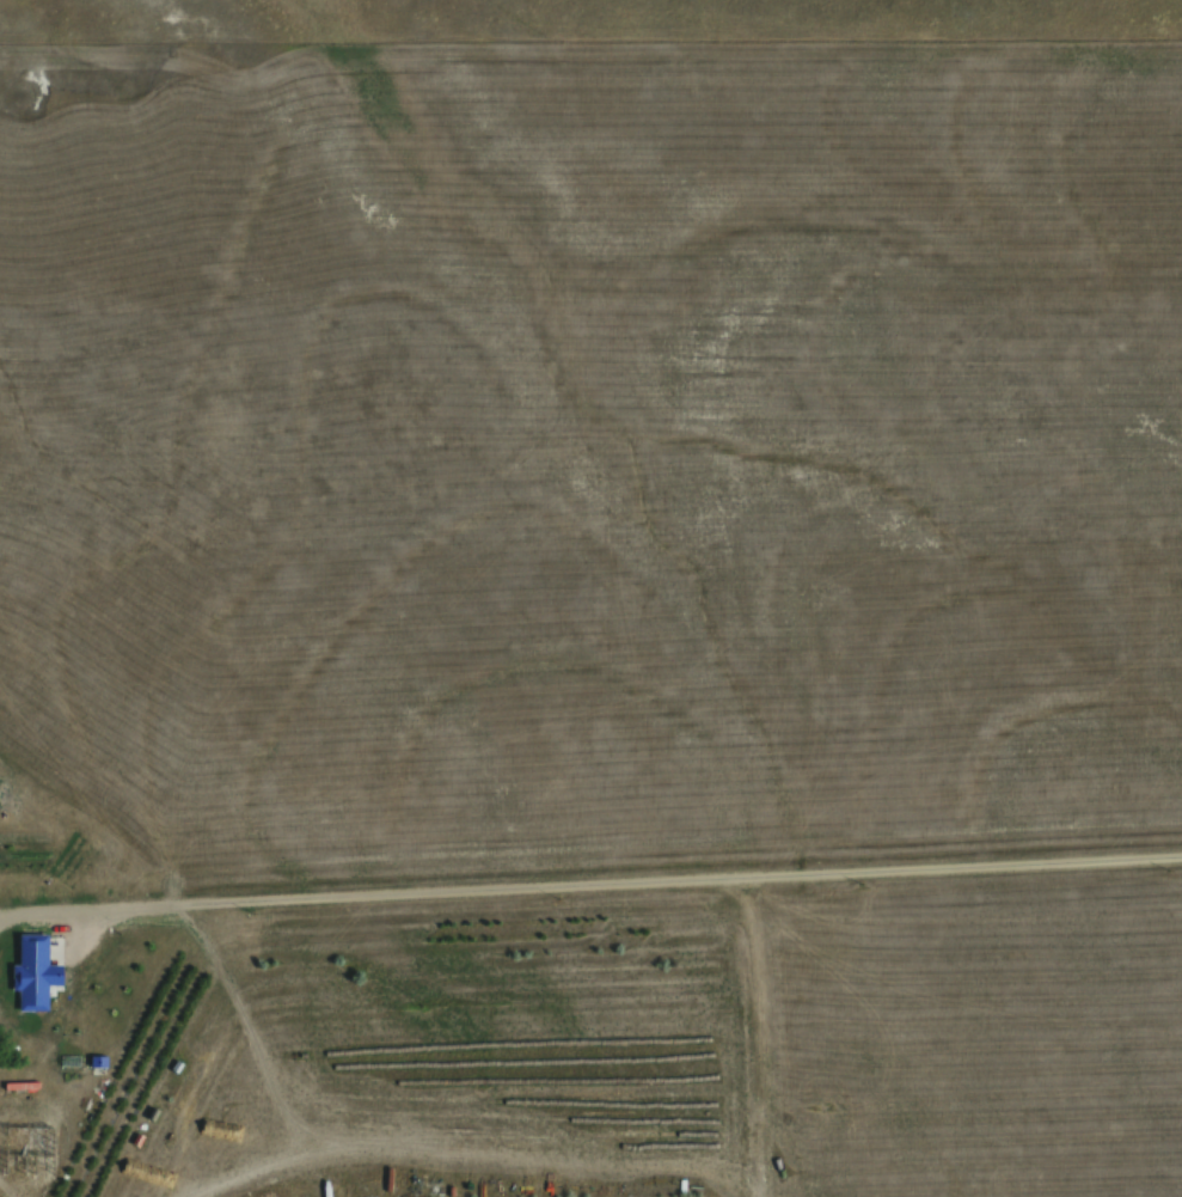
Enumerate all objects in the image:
road: (590, 880)

